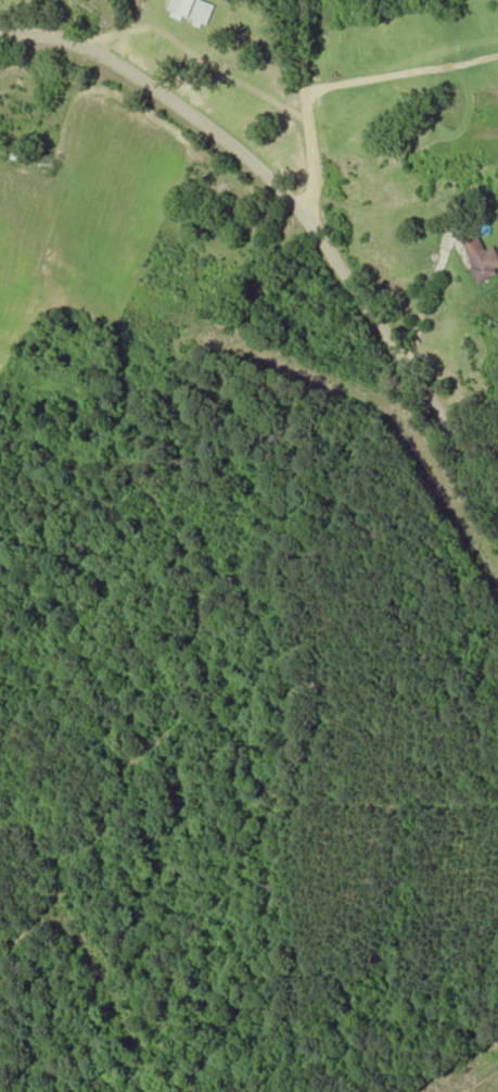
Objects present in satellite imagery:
building: (195, 10)
road: (163, 95)
road: (310, 109)
building: (482, 255)
road: (398, 361)

